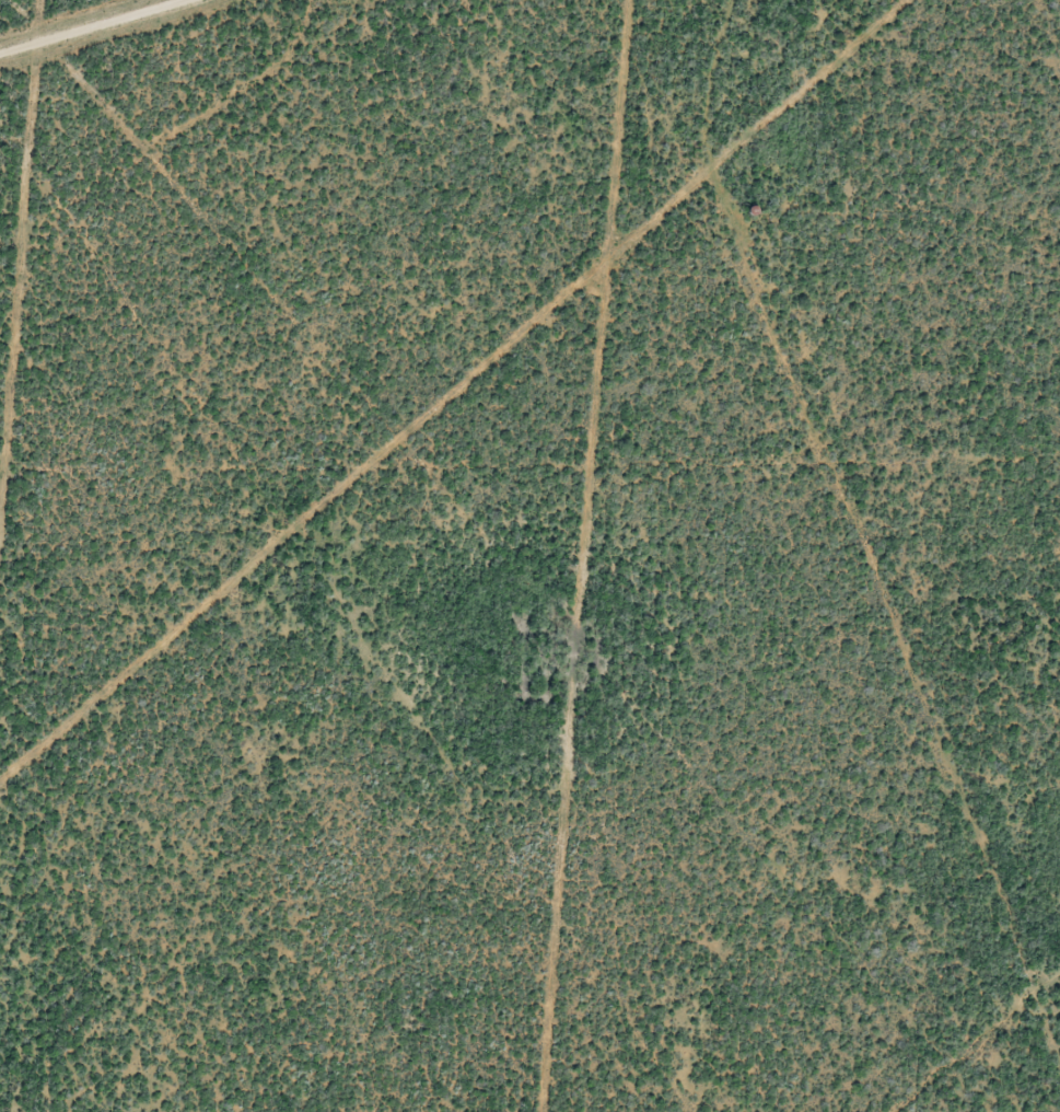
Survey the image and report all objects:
road: (869, 505)

